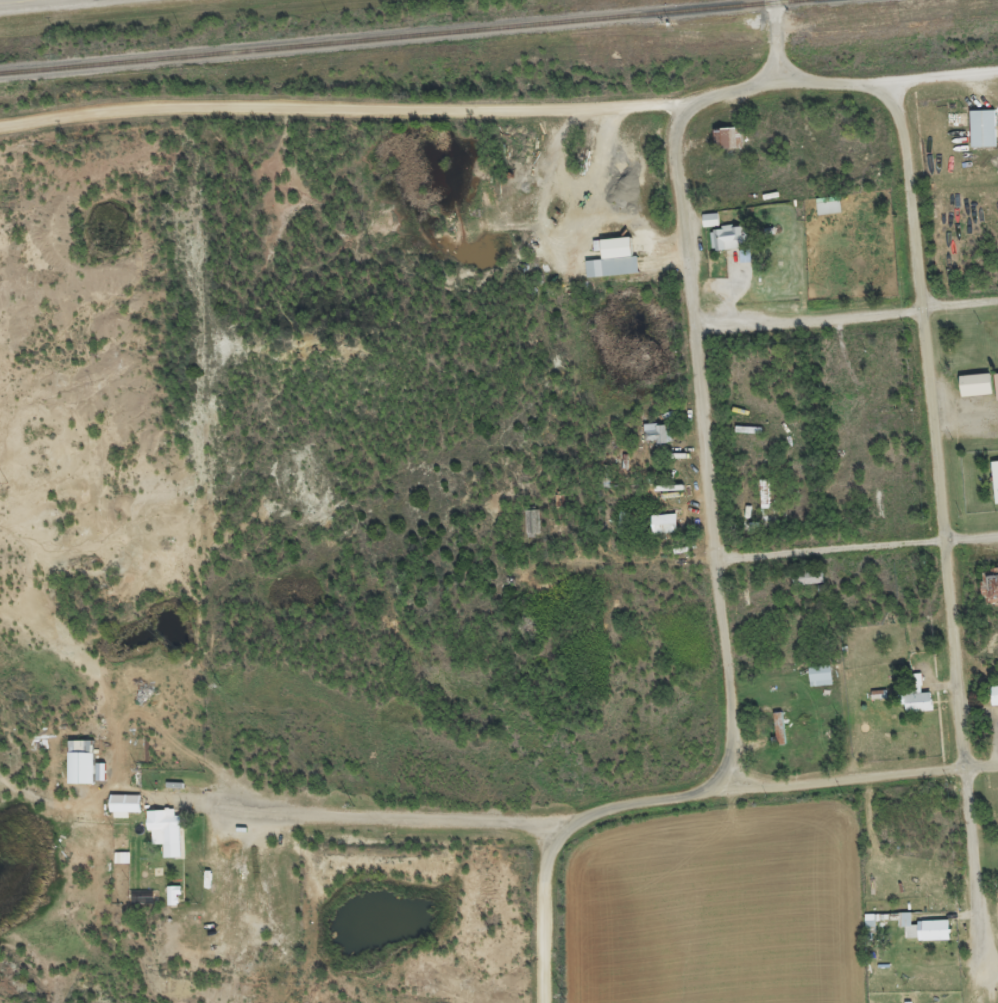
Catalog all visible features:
road: (25, 2)
railway: (394, 35)
road: (775, 39)
road: (500, 113)
building: (980, 136)
building: (724, 146)
building: (825, 213)
building: (708, 228)
building: (722, 247)
building: (610, 267)
road: (846, 319)
building: (994, 394)
building: (653, 441)
road: (707, 446)
building: (994, 489)
building: (661, 531)
road: (947, 535)
road: (858, 551)
road: (630, 564)
building: (988, 594)
building: (817, 684)
building: (993, 703)
building: (914, 710)
building: (776, 736)
building: (77, 770)
road: (776, 786)
building: (121, 813)
road: (401, 820)
building: (162, 839)
building: (170, 902)
road: (545, 913)
building: (869, 930)
building: (921, 937)

